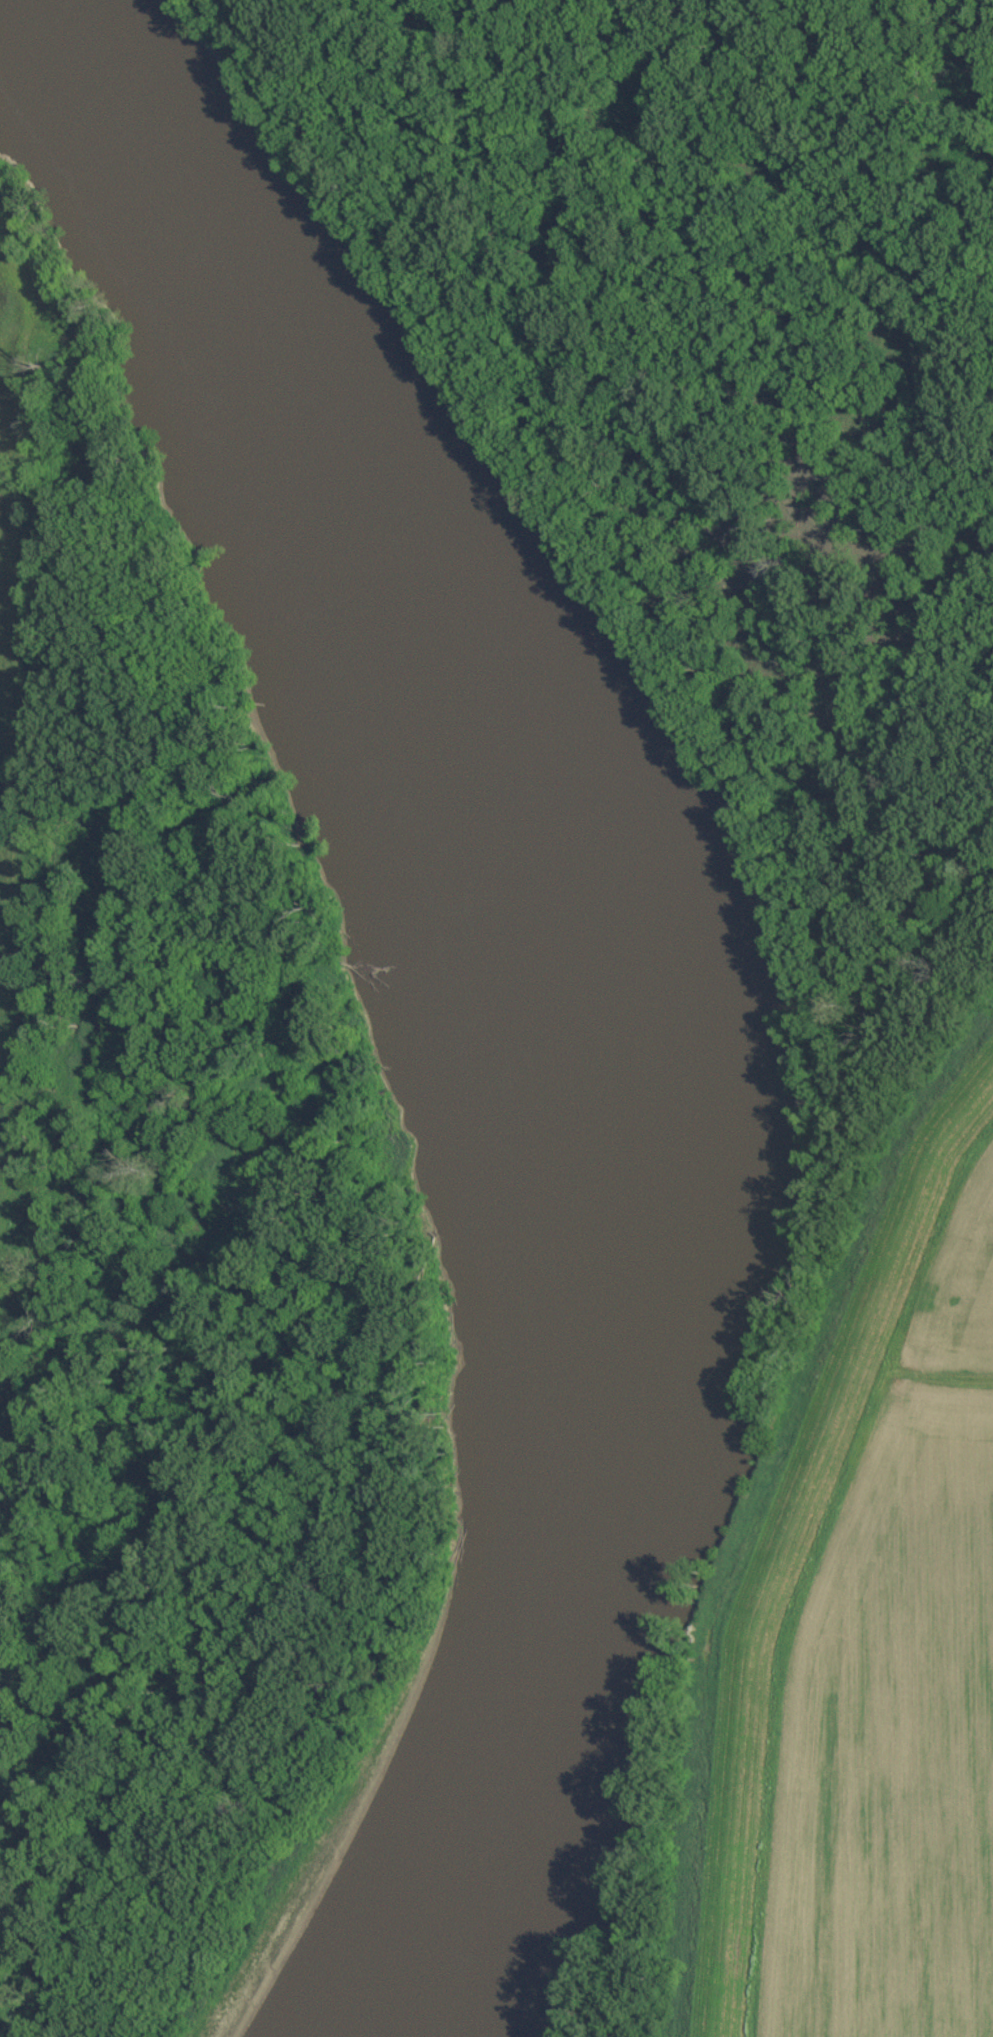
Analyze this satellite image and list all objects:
river: (590, 979)

